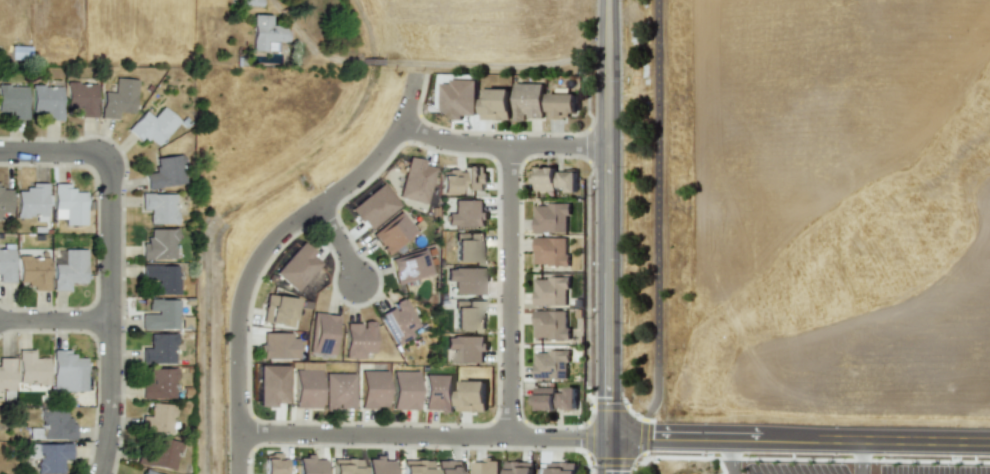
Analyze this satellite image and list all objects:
building: (251, 2)
building: (264, 32)
road: (317, 54)
road: (373, 61)
road: (501, 65)
building: (80, 98)
building: (118, 98)
building: (457, 98)
building: (13, 101)
building: (46, 101)
building: (528, 101)
building: (495, 104)
building: (561, 105)
building: (152, 126)
road: (504, 146)
road: (55, 153)
building: (164, 172)
building: (474, 178)
building: (554, 179)
building: (415, 180)
building: (449, 181)
building: (5, 201)
building: (32, 202)
building: (69, 204)
building: (158, 207)
building: (374, 207)
building: (466, 213)
building: (551, 218)
building: (392, 232)
road: (610, 237)
road: (658, 237)
road: (338, 243)
building: (158, 244)
road: (265, 247)
building: (468, 247)
building: (551, 251)
building: (6, 265)
building: (297, 267)
building: (410, 267)
building: (69, 270)
building: (33, 272)
building: (159, 278)
building: (466, 280)
road: (510, 291)
building: (551, 291)
building: (277, 310)
road: (110, 314)
building: (159, 314)
building: (468, 315)
road: (55, 320)
building: (398, 321)
building: (550, 324)
building: (323, 334)
building: (358, 339)
building: (278, 346)
building: (466, 348)
building: (158, 349)
building: (550, 365)
building: (31, 368)
building: (67, 372)
building: (6, 378)
building: (158, 383)
building: (272, 385)
building: (305, 388)
building: (372, 389)
building: (403, 390)
building: (338, 391)
building: (437, 392)
building: (471, 396)
building: (555, 398)
building: (156, 418)
building: (54, 425)
road: (424, 434)
road: (800, 442)
building: (157, 454)
building: (48, 456)
road: (734, 457)
road: (864, 459)
building: (274, 464)
building: (308, 465)
building: (344, 466)
building: (378, 466)
building: (414, 467)
building: (449, 467)
building: (485, 467)
building: (518, 467)
building: (562, 468)
building: (146, 472)

